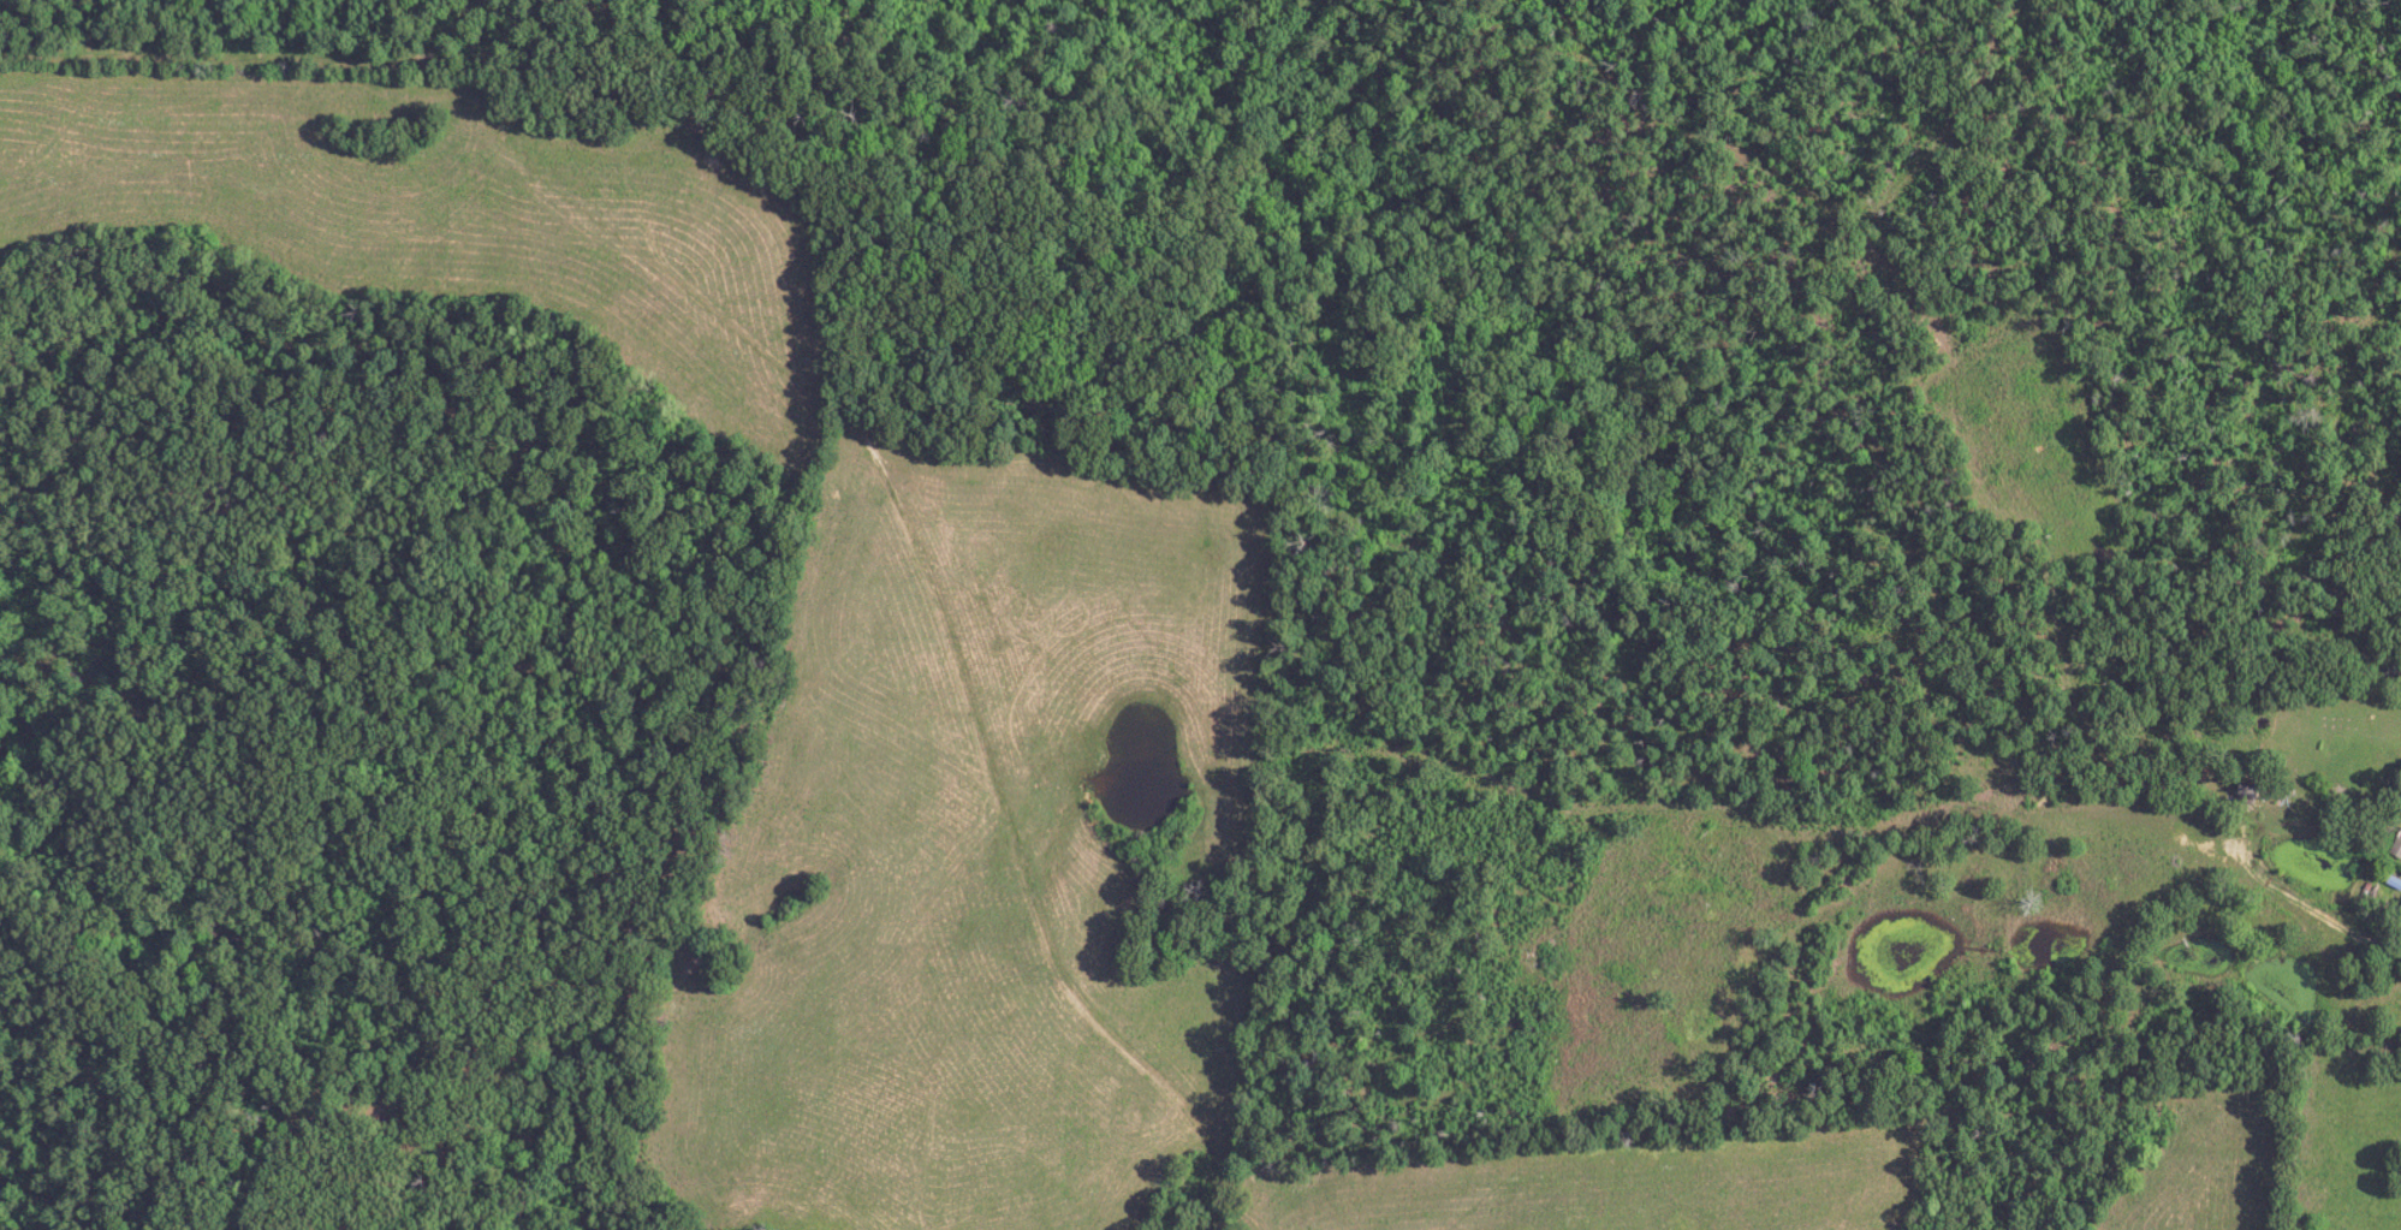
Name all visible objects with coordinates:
building: (2396, 846)

